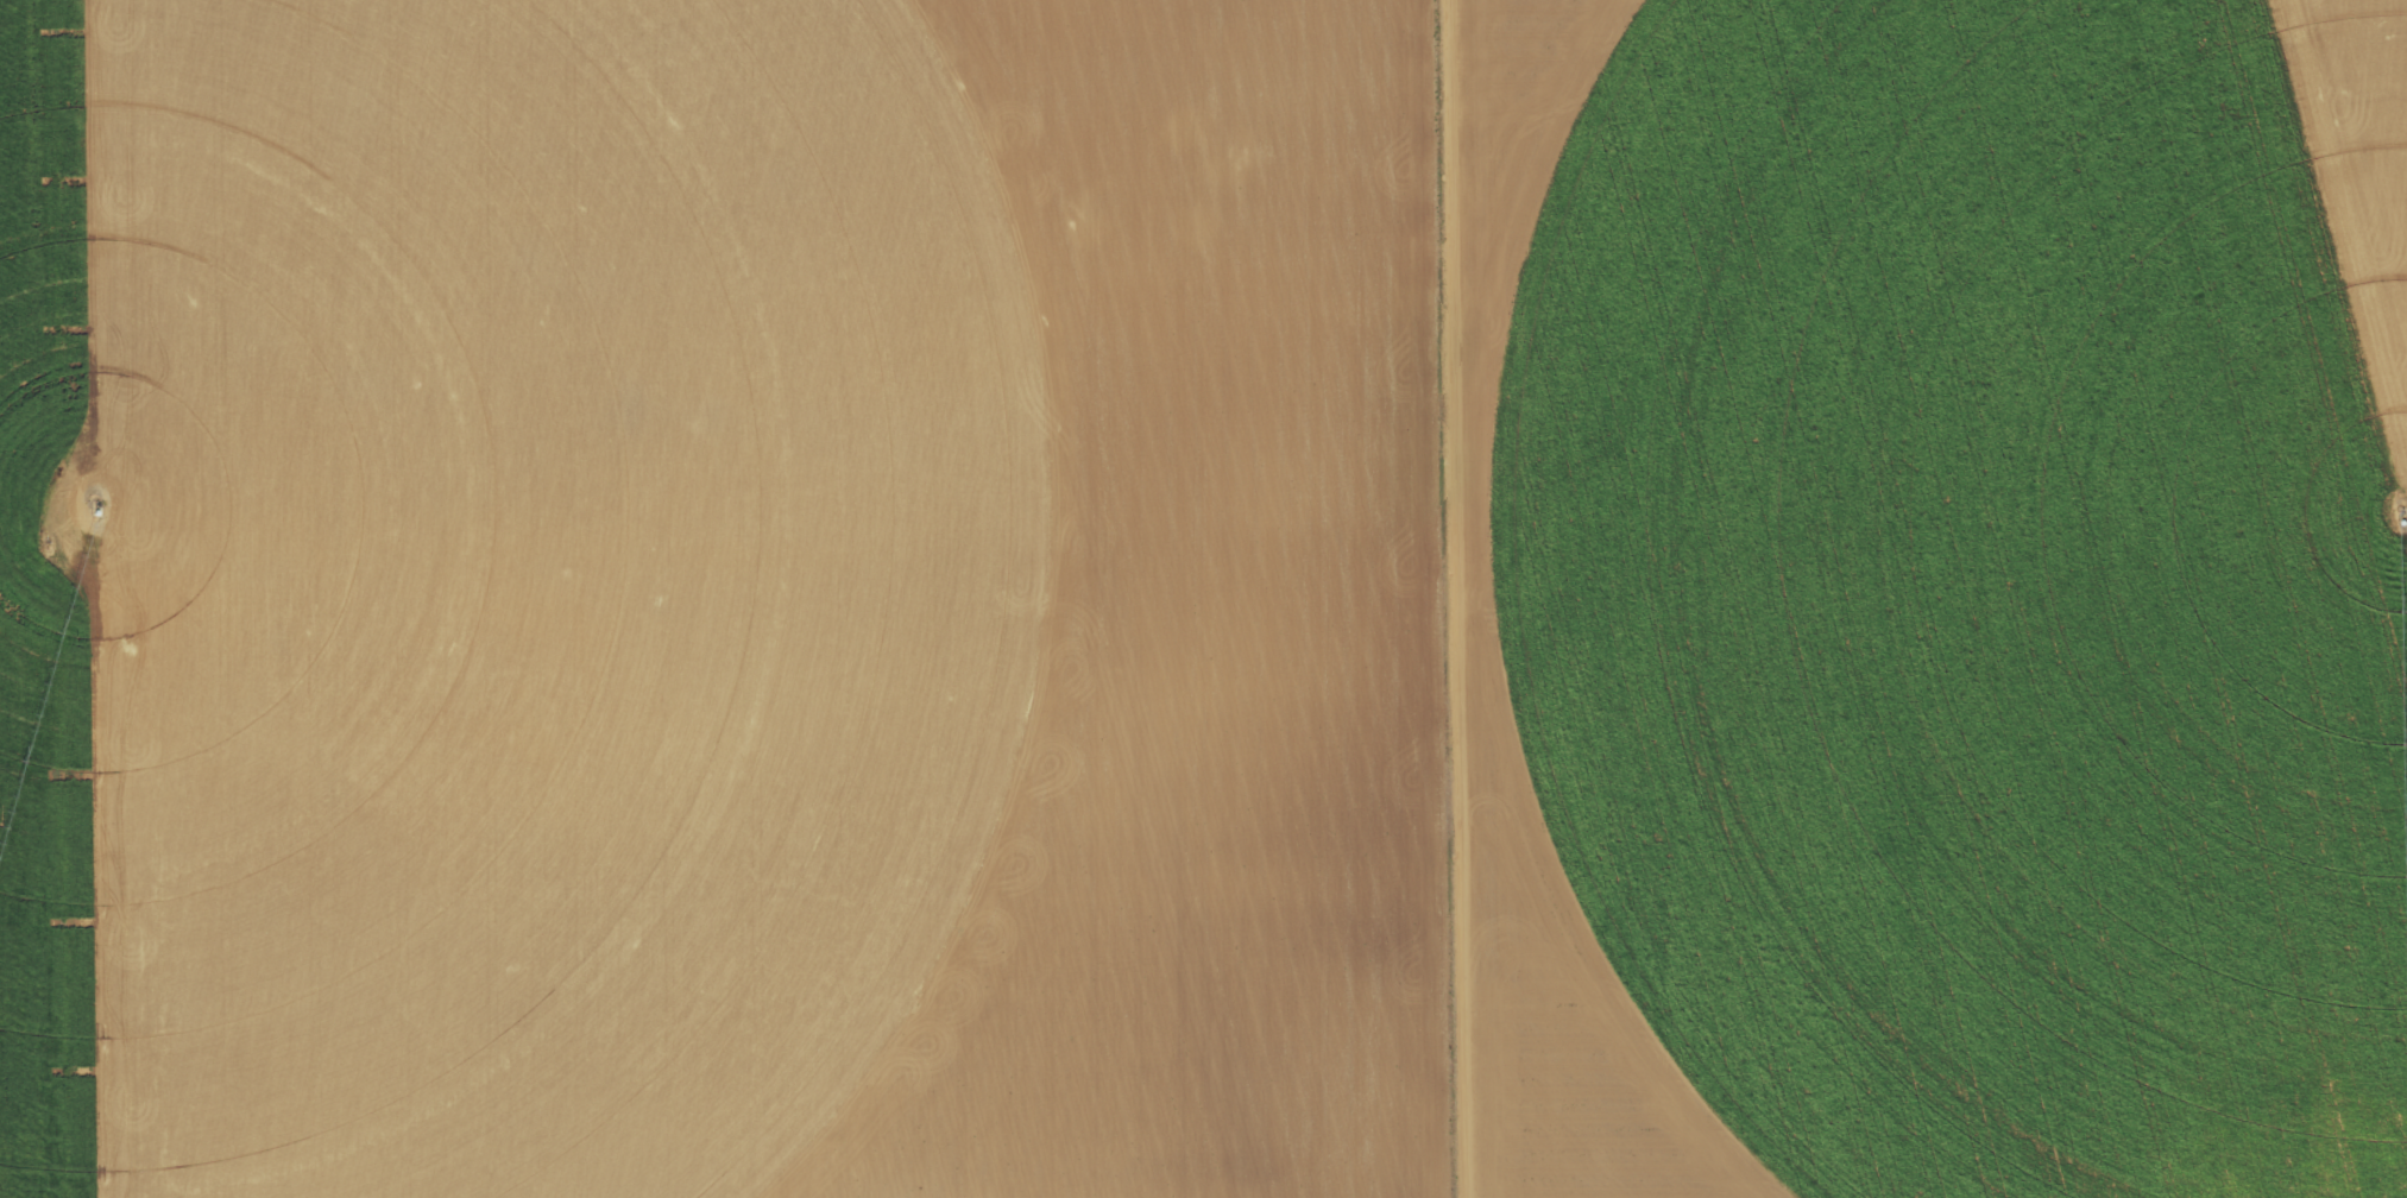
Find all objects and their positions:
road: (1434, 599)
road: (27, 874)

